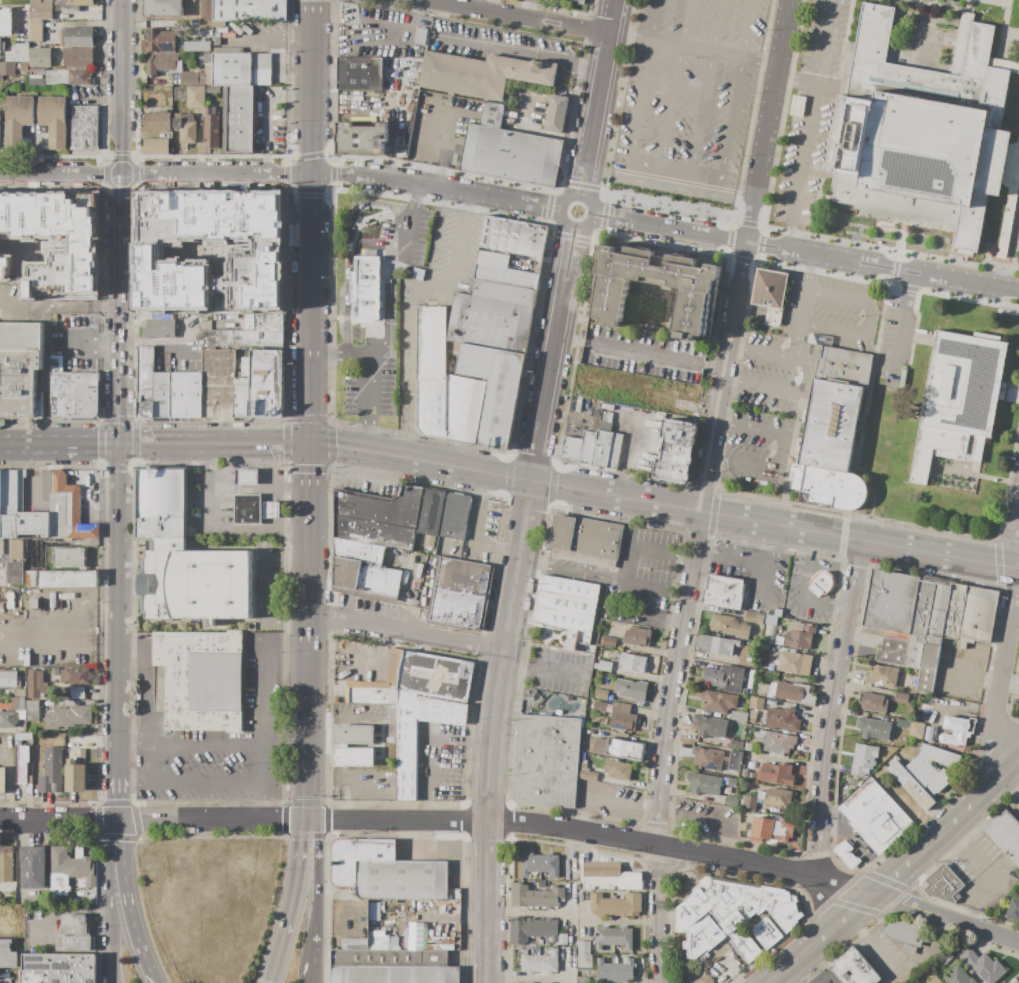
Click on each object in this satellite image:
building: (576, 2)
parking lot: (943, 3)
building: (72, 4)
building: (162, 8)
building: (41, 9)
building: (206, 10)
building: (249, 10)
road: (314, 18)
road: (514, 18)
road: (408, 20)
building: (6, 22)
building: (218, 24)
building: (206, 26)
building: (35, 31)
building: (420, 35)
building: (77, 37)
road: (274, 37)
road: (1002, 37)
building: (217, 39)
building: (160, 40)
road: (823, 40)
building: (208, 43)
building: (1, 46)
building: (195, 46)
road: (694, 46)
road: (521, 48)
building: (21, 52)
building: (40, 57)
building: (78, 57)
building: (159, 63)
building: (24, 67)
building: (6, 70)
building: (242, 70)
building: (207, 74)
building: (359, 74)
building: (481, 74)
building: (46, 77)
building: (80, 78)
building: (191, 78)
road: (672, 84)
road: (705, 86)
building: (213, 90)
road: (265, 91)
road: (639, 95)
building: (190, 96)
road: (313, 105)
parking lot: (691, 105)
building: (797, 105)
parking lot: (808, 112)
building: (556, 113)
building: (240, 119)
parking lot: (268, 119)
building: (18, 120)
building: (54, 120)
road: (729, 120)
building: (155, 122)
building: (177, 122)
building: (83, 128)
building: (211, 130)
building: (188, 131)
building: (921, 135)
building: (362, 137)
building: (155, 146)
road: (804, 146)
road: (441, 150)
building: (510, 151)
road: (512, 201)
road: (312, 202)
building: (1007, 216)
road: (120, 222)
building: (44, 229)
road: (592, 233)
building: (513, 236)
parking lot: (398, 237)
road: (1014, 237)
road: (573, 240)
road: (729, 240)
road: (346, 248)
road: (744, 256)
building: (493, 258)
building: (506, 276)
building: (366, 289)
road: (310, 291)
building: (768, 293)
building: (609, 297)
road: (389, 299)
road: (59, 303)
road: (101, 303)
road: (801, 307)
road: (410, 317)
building: (493, 317)
road: (866, 321)
building: (268, 322)
road: (904, 326)
building: (159, 329)
parking lot: (810, 332)
building: (244, 340)
building: (431, 341)
road: (92, 343)
parking lot: (73, 344)
road: (639, 353)
road: (886, 363)
parking lot: (369, 368)
building: (21, 369)
road: (798, 377)
building: (146, 381)
building: (217, 383)
building: (266, 383)
building: (495, 390)
building: (73, 394)
building: (161, 394)
building: (185, 394)
building: (241, 397)
road: (309, 399)
road: (370, 401)
building: (958, 402)
building: (464, 406)
building: (608, 407)
building: (432, 408)
building: (837, 410)
road: (865, 411)
building: (606, 417)
building: (594, 423)
building: (604, 426)
parking lot: (759, 442)
road: (77, 444)
traffic signals: (119, 444)
road: (138, 444)
road: (233, 444)
road: (18, 445)
traffic signals: (309, 445)
road: (331, 447)
building: (579, 448)
building: (606, 450)
road: (362, 451)
building: (676, 451)
road: (776, 451)
road: (625, 461)
road: (135, 467)
road: (450, 467)
road: (331, 470)
road: (36, 476)
building: (246, 476)
road: (508, 479)
building: (246, 485)
road: (310, 485)
road: (552, 485)
building: (828, 487)
road: (90, 500)
building: (18, 508)
building: (67, 510)
building: (246, 510)
building: (272, 510)
building: (430, 512)
road: (713, 512)
building: (455, 516)
building: (379, 518)
road: (774, 526)
road: (219, 527)
building: (586, 537)
road: (843, 537)
building: (1, 544)
road: (633, 545)
building: (16, 550)
building: (1, 552)
road: (708, 553)
building: (183, 557)
building: (69, 558)
road: (747, 560)
road: (1018, 562)
road: (998, 566)
road: (310, 571)
building: (363, 571)
building: (14, 573)
road: (591, 573)
building: (462, 577)
building: (29, 579)
building: (68, 579)
building: (405, 583)
road: (765, 584)
building: (821, 584)
road: (260, 590)
building: (723, 592)
road: (796, 594)
building: (891, 601)
building: (33, 603)
building: (566, 605)
road: (118, 608)
building: (456, 610)
building: (954, 611)
building: (977, 616)
building: (20, 618)
road: (642, 618)
building: (753, 618)
building: (770, 620)
building: (729, 625)
building: (920, 625)
building: (251, 626)
road: (406, 633)
building: (769, 633)
building: (637, 637)
building: (800, 638)
building: (933, 639)
building: (609, 641)
building: (716, 645)
road: (60, 647)
road: (309, 648)
road: (346, 649)
building: (892, 652)
building: (789, 662)
building: (596, 663)
building: (632, 663)
building: (710, 663)
building: (806, 665)
building: (604, 666)
building: (395, 667)
road: (543, 670)
building: (53, 671)
road: (974, 674)
building: (78, 676)
building: (436, 676)
building: (882, 676)
building: (723, 678)
building: (9, 679)
road: (1001, 679)
building: (198, 680)
building: (34, 685)
road: (144, 686)
building: (631, 690)
building: (744, 691)
building: (370, 692)
building: (786, 692)
building: (18, 693)
building: (77, 693)
building: (4, 694)
building: (601, 694)
building: (901, 698)
building: (717, 701)
building: (873, 702)
building: (756, 703)
building: (16, 704)
building: (599, 706)
road: (833, 708)
building: (31, 711)
building: (751, 714)
building: (738, 716)
building: (67, 717)
building: (622, 717)
building: (759, 718)
building: (8, 719)
building: (782, 719)
building: (750, 720)
building: (903, 723)
building: (956, 724)
building: (28, 725)
building: (711, 726)
building: (873, 728)
road: (492, 730)
building: (916, 730)
building: (354, 734)
building: (23, 736)
building: (954, 738)
building: (776, 742)
road: (240, 743)
building: (735, 744)
road: (665, 747)
building: (747, 747)
road: (430, 748)
building: (624, 749)
road: (308, 750)
building: (940, 756)
building: (72, 757)
building: (354, 757)
building: (708, 759)
building: (863, 759)
building: (734, 760)
building: (407, 761)
building: (546, 761)
building: (22, 764)
building: (584, 767)
building: (617, 770)
building: (51, 771)
building: (775, 774)
building: (930, 774)
road: (1013, 775)
building: (587, 776)
building: (76, 778)
building: (3, 780)
building: (29, 780)
road: (208, 782)
building: (732, 782)
road: (136, 783)
building: (704, 784)
building: (911, 785)
building: (24, 786)
building: (580, 789)
building: (29, 790)
building: (18, 791)
building: (760, 795)
road: (116, 797)
building: (778, 798)
road: (262, 801)
building: (730, 801)
building: (750, 803)
road: (677, 809)
building: (874, 815)
traffic signals: (308, 820)
traffic signals: (118, 822)
road: (517, 822)
building: (770, 829)
building: (1005, 835)
road: (327, 837)
road: (137, 839)
building: (852, 849)
road: (17, 855)
road: (964, 858)
building: (6, 864)
building: (530, 864)
building: (549, 864)
building: (33, 867)
building: (68, 870)
building: (386, 872)
road: (895, 873)
building: (600, 874)
road: (296, 878)
building: (630, 881)
road: (110, 883)
building: (943, 884)
road: (127, 891)
road: (317, 893)
building: (535, 897)
building: (20, 898)
building: (615, 905)
road: (60, 909)
building: (1013, 909)
building: (373, 911)
building: (730, 915)
building: (531, 929)
building: (905, 932)
building: (766, 933)
building: (74, 934)
building: (612, 937)
building: (562, 939)
building: (379, 940)
road: (870, 942)
building: (355, 945)
building: (584, 948)
building: (908, 950)
building: (7, 954)
road: (275, 959)
building: (584, 962)
building: (539, 963)
road: (112, 964)
building: (984, 966)
building: (391, 967)
building: (58, 968)
building: (854, 968)
building: (615, 971)
road: (149, 972)
road: (728, 972)
building: (4, 975)
road: (309, 976)
building: (957, 976)
building: (824, 978)
building: (583, 980)
building: (5, 981)
building: (935, 981)

